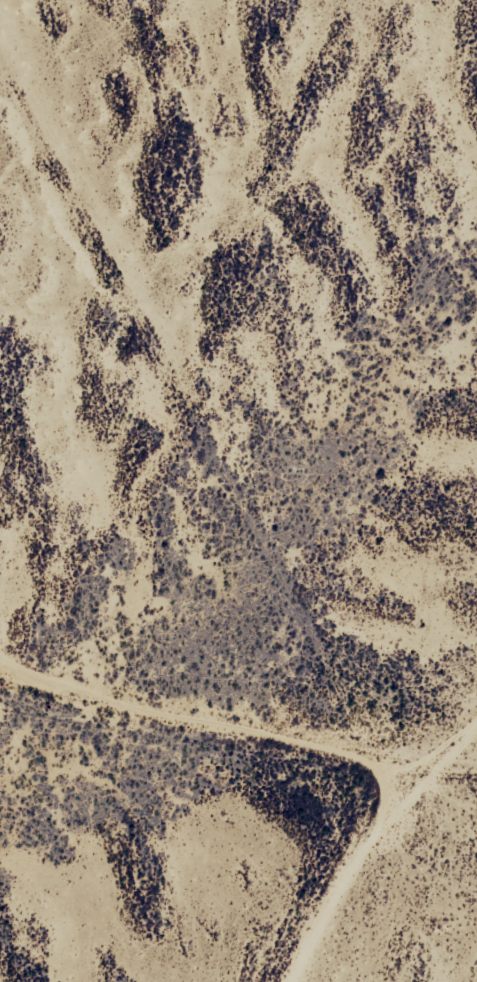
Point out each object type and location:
road: (466, 753)
road: (236, 761)

